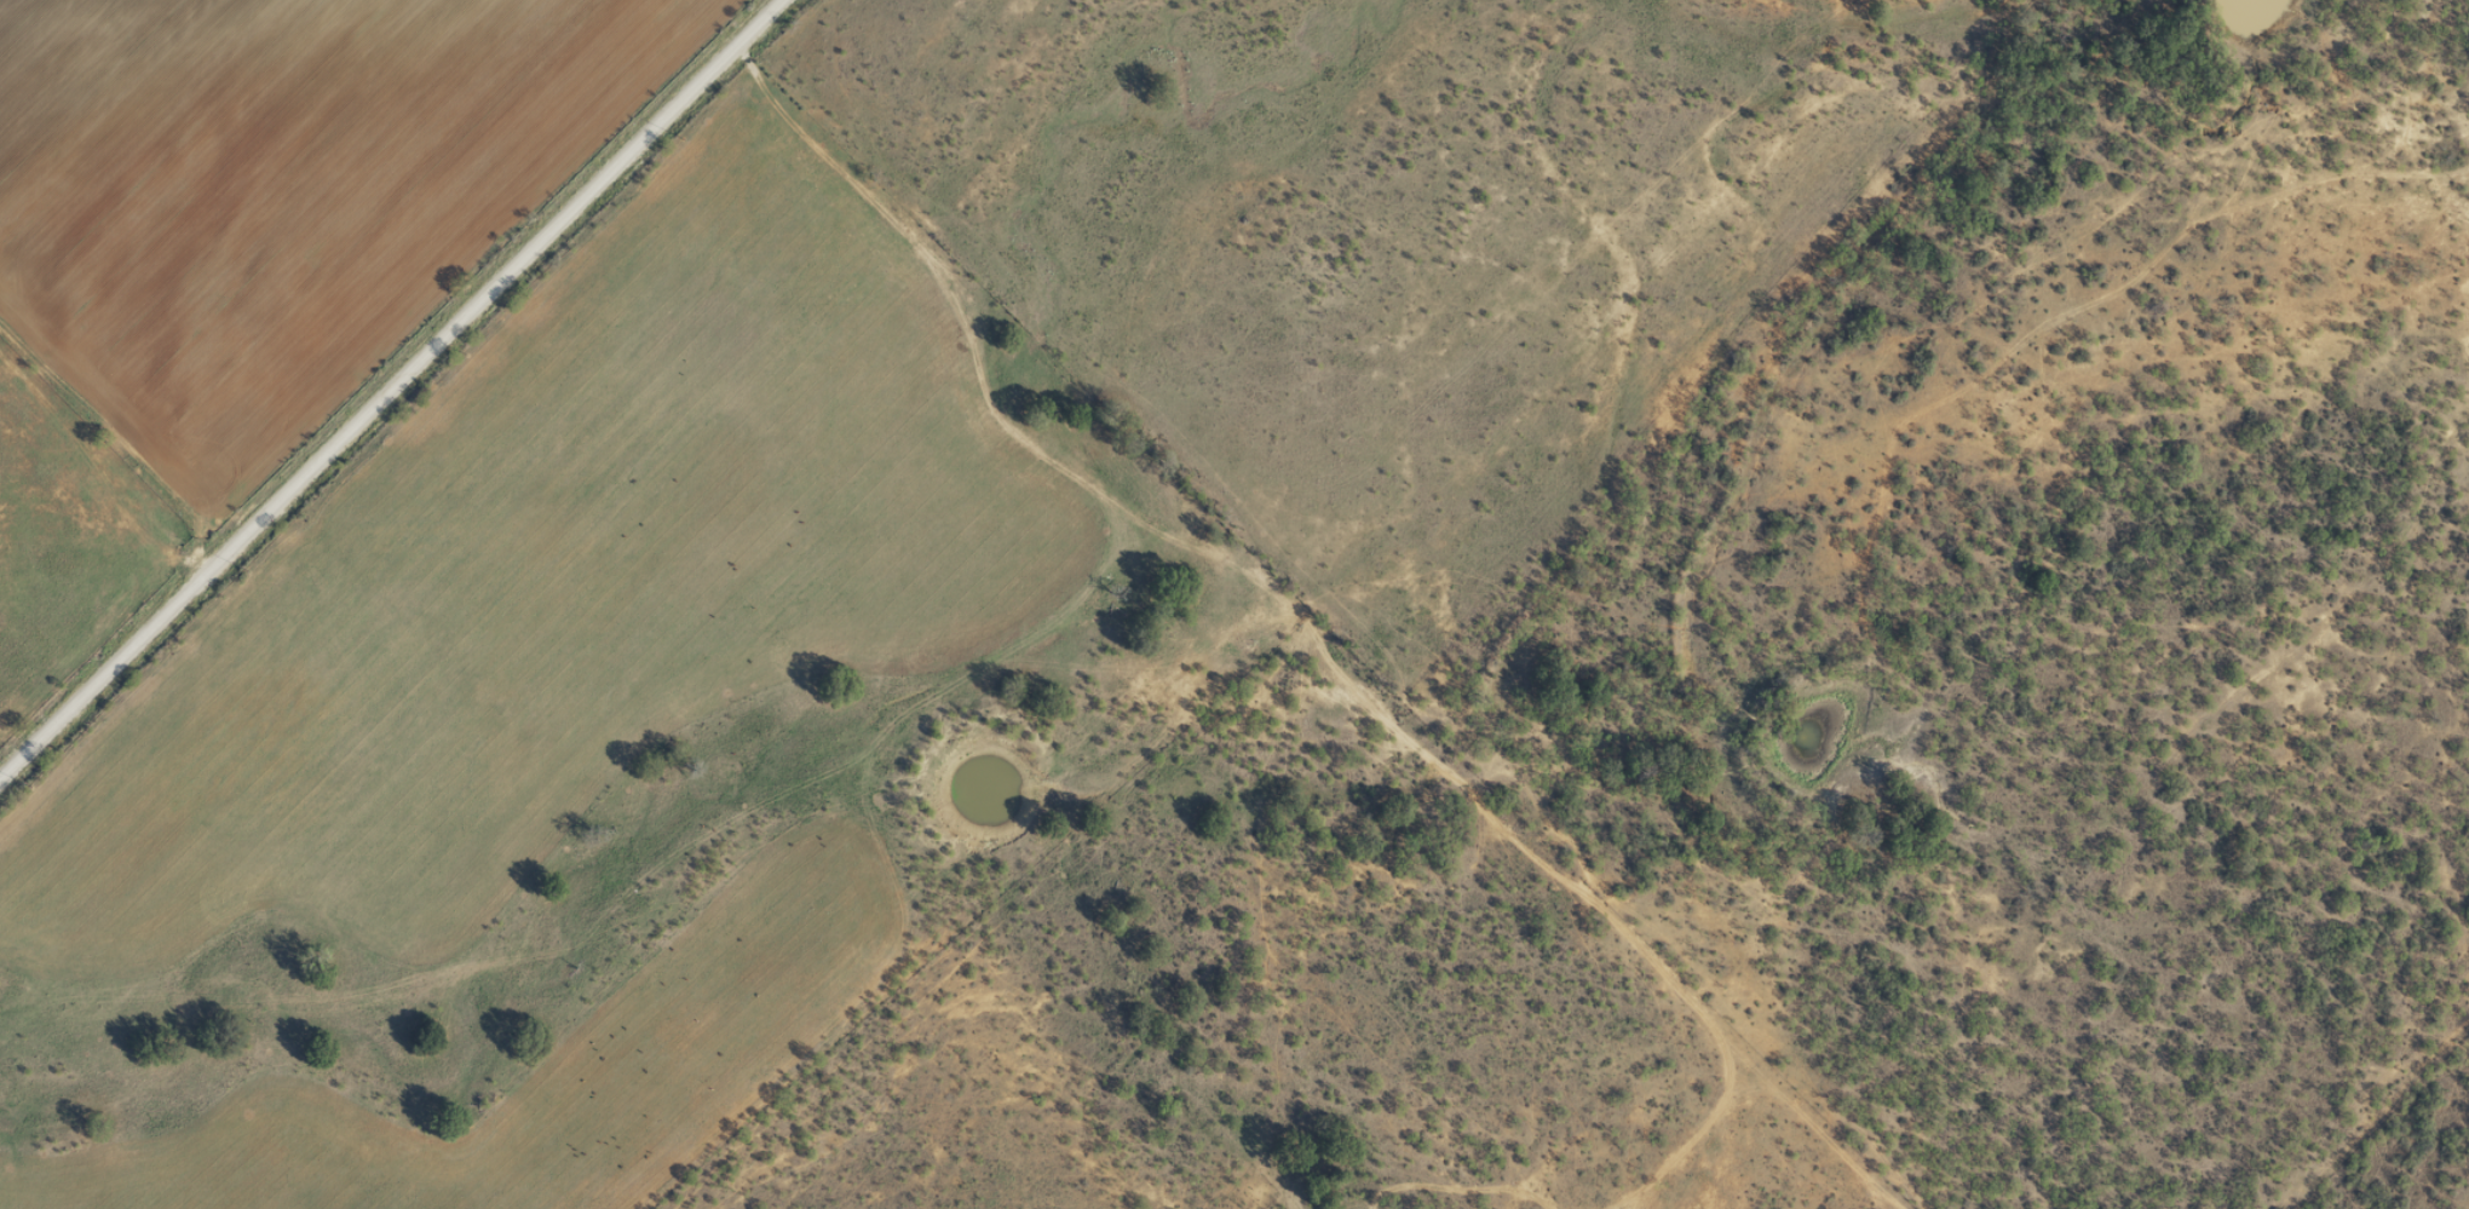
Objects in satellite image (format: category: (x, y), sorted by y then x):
road: (2116, 311)
road: (389, 388)

